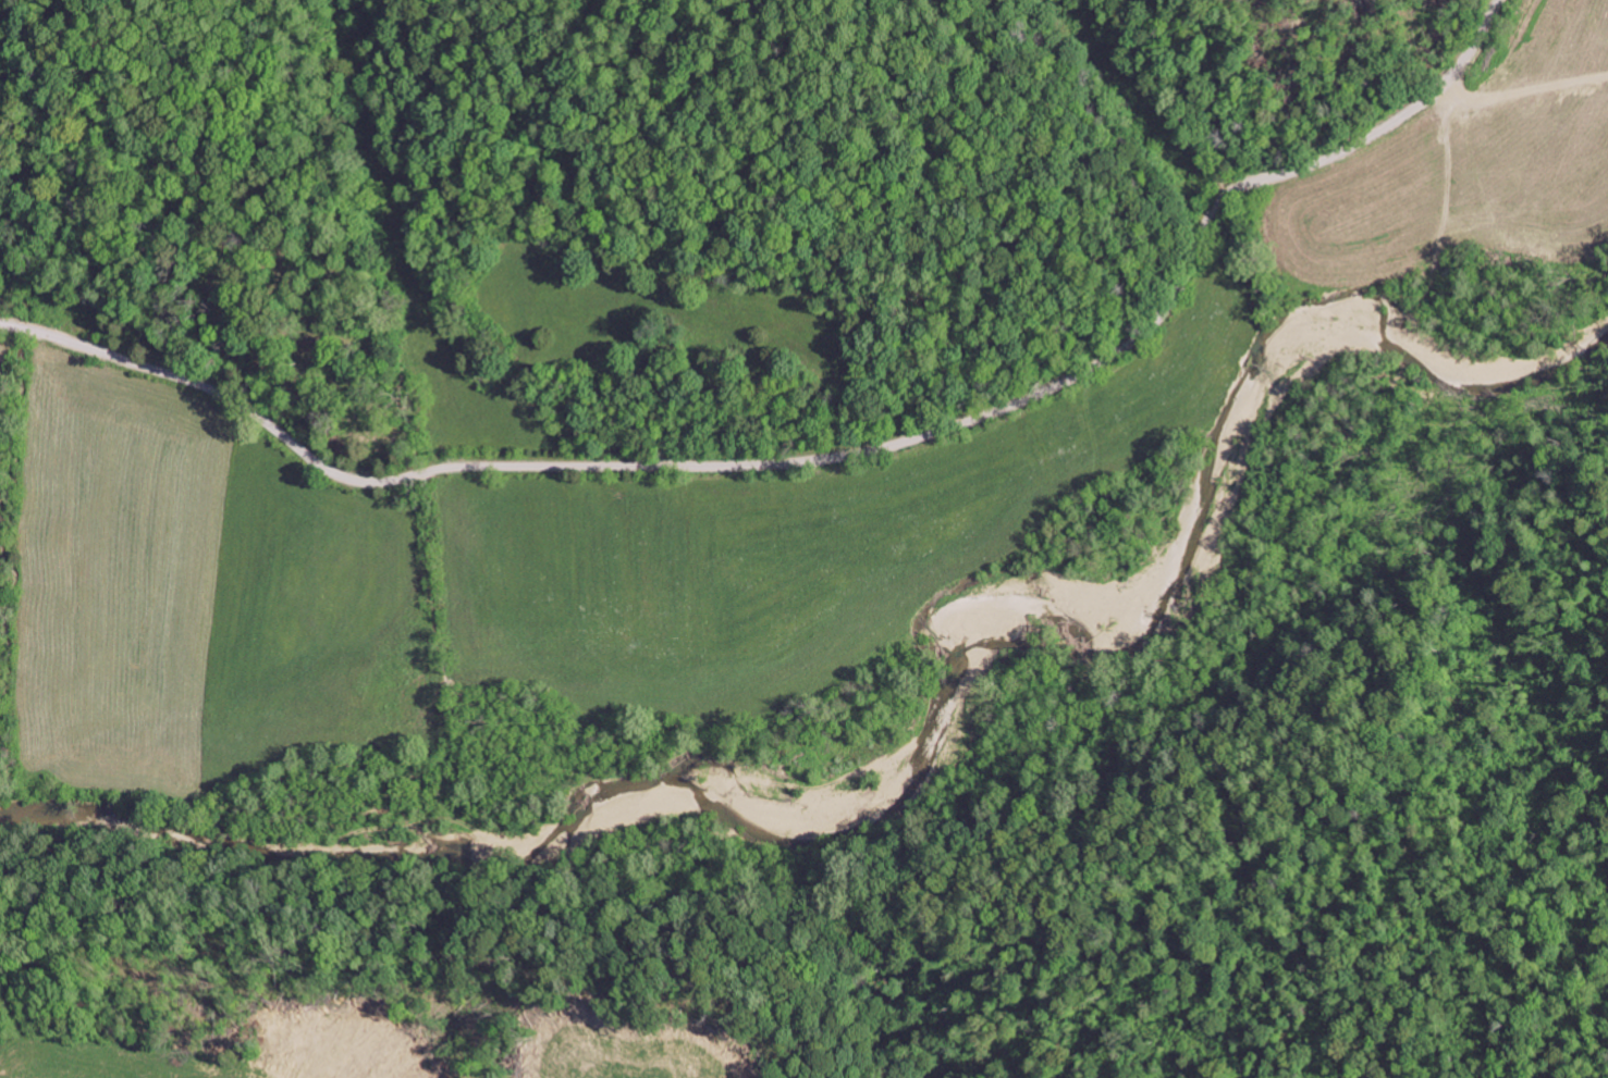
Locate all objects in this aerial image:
road: (819, 459)

